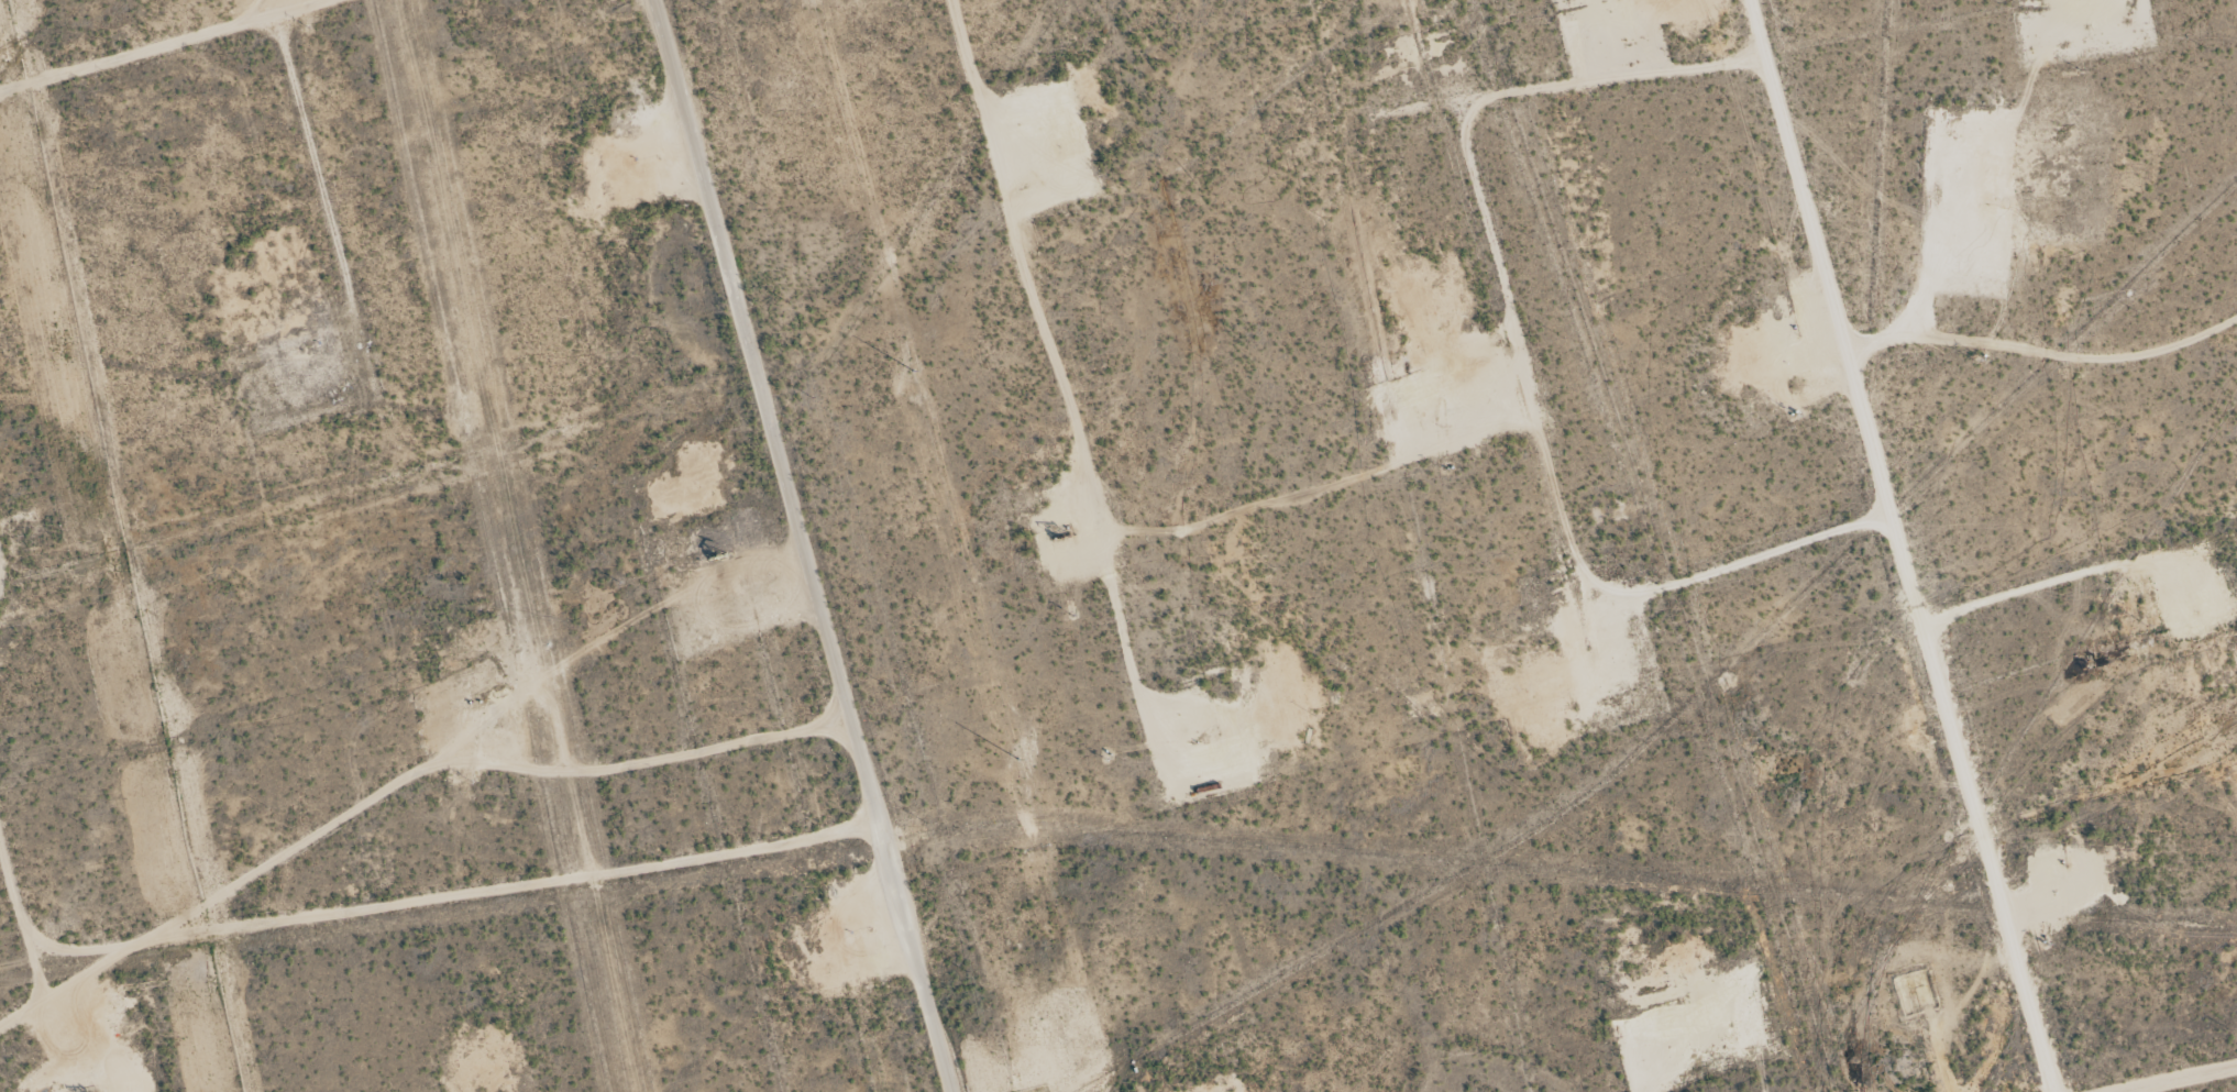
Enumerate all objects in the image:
power tower: (807, 1)
power tower: (913, 398)
road: (803, 545)
power tower: (1021, 791)
road: (2172, 1076)

